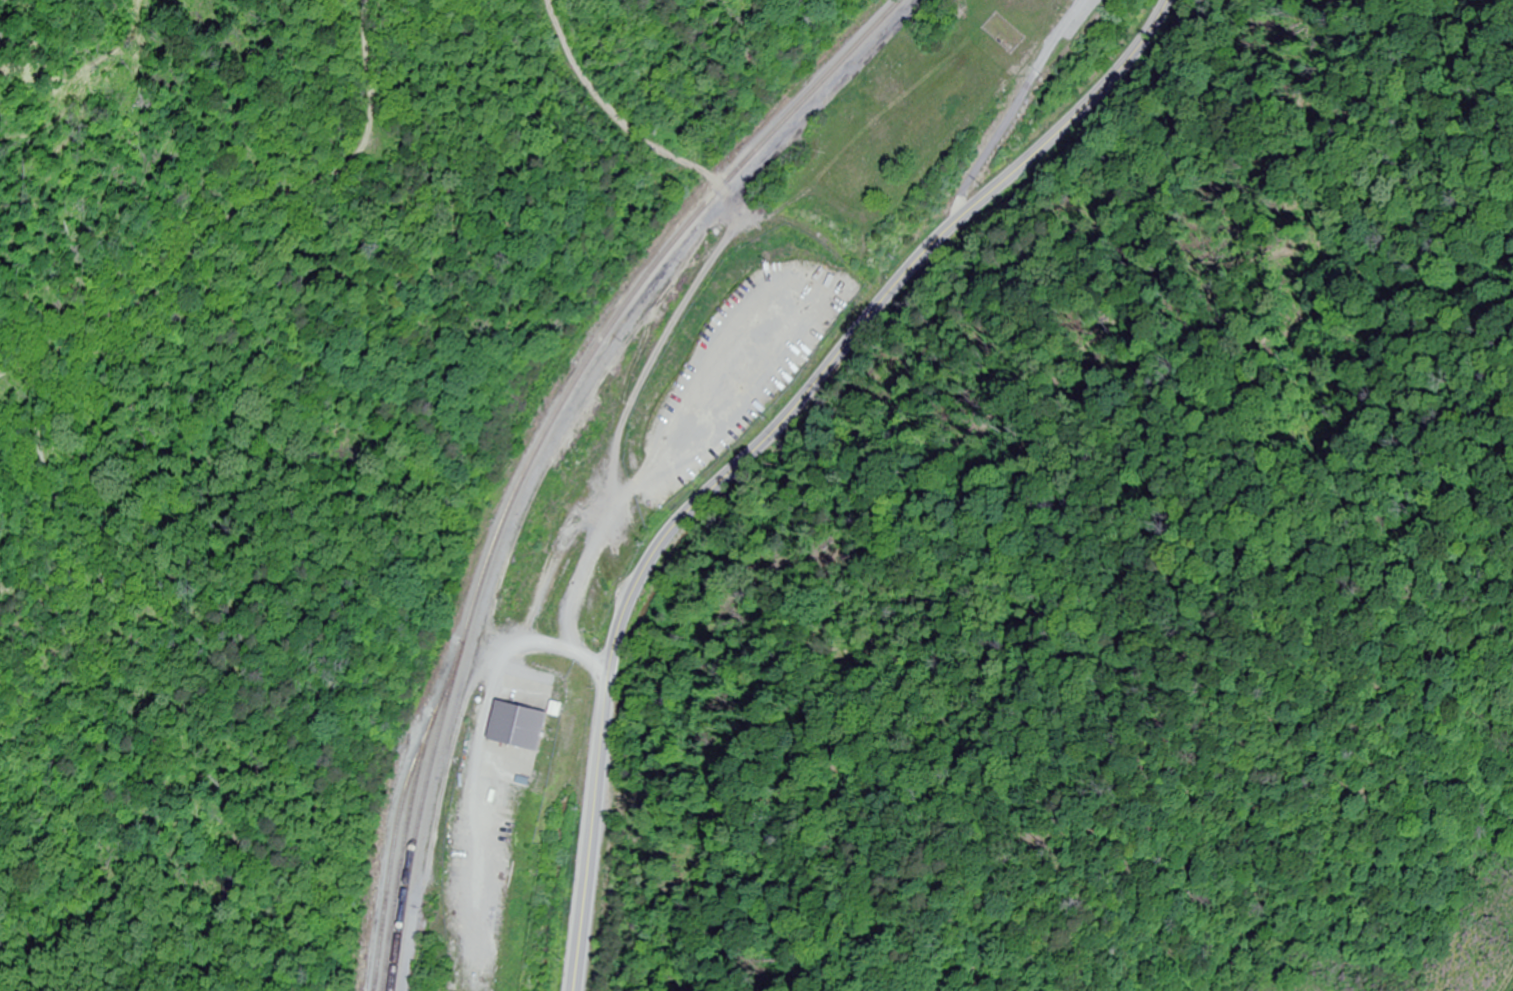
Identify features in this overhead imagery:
road: (759, 441)
railway: (541, 442)
railway: (553, 442)
building: (521, 726)
railway: (407, 822)
railway: (391, 862)

